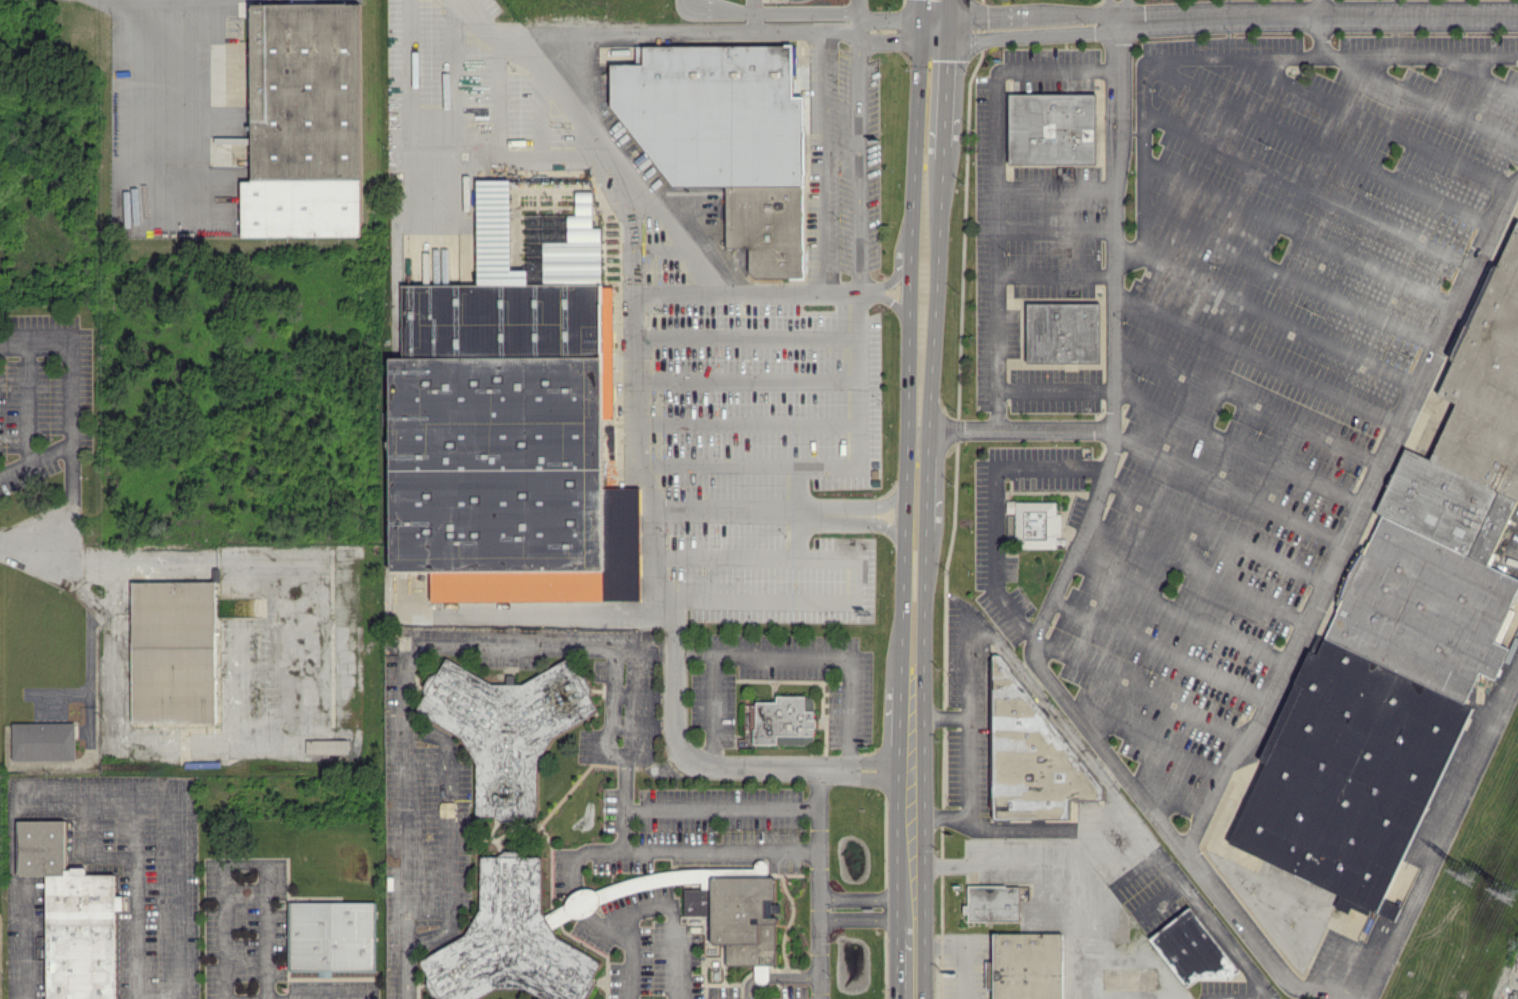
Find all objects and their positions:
road: (159, 4)
road: (940, 7)
road: (1318, 9)
road: (1106, 12)
road: (1126, 12)
road: (818, 15)
road: (859, 15)
road: (1228, 20)
road: (879, 21)
road: (588, 22)
road: (939, 22)
road: (920, 29)
traffic signals: (939, 29)
road: (715, 30)
road: (839, 30)
road: (881, 37)
road: (944, 43)
road: (514, 48)
road: (1418, 56)
road: (1148, 64)
road: (1479, 74)
road: (948, 78)
road: (177, 82)
road: (1426, 99)
building: (305, 121)
road: (1373, 121)
road: (945, 123)
building: (1052, 128)
building: (726, 137)
road: (1320, 145)
road: (438, 159)
road: (817, 159)
road: (860, 159)
road: (1055, 183)
road: (1309, 188)
road: (996, 191)
road: (650, 195)
road: (939, 195)
road: (1055, 225)
road: (1300, 233)
road: (934, 269)
road: (1055, 271)
road: (1291, 274)
road: (886, 281)
road: (838, 288)
road: (884, 299)
road: (1278, 317)
building: (1063, 332)
road: (746, 335)
road: (633, 340)
road: (1114, 346)
road: (1257, 359)
road: (931, 360)
road: (68, 361)
road: (745, 379)
road: (1054, 390)
road: (1248, 399)
building: (511, 420)
road: (1021, 429)
road: (903, 439)
road: (856, 442)
road: (1238, 447)
road: (70, 461)
road: (926, 477)
road: (1230, 490)
road: (992, 499)
road: (864, 504)
road: (1356, 518)
road: (863, 521)
building: (1035, 524)
road: (1215, 532)
road: (78, 552)
road: (725, 559)
road: (1197, 573)
road: (824, 592)
road: (923, 605)
road: (1180, 611)
road: (544, 614)
building: (1415, 620)
road: (668, 640)
road: (994, 642)
building: (173, 648)
road: (1162, 648)
road: (688, 652)
road: (775, 654)
road: (403, 670)
road: (1141, 690)
road: (946, 722)
building: (506, 726)
building: (43, 738)
road: (1149, 745)
building: (326, 746)
road: (865, 758)
road: (923, 760)
road: (865, 778)
road: (819, 788)
road: (66, 794)
road: (1168, 801)
road: (778, 806)
road: (445, 835)
road: (1443, 837)
road: (1023, 840)
road: (1178, 841)
road: (700, 850)
road: (222, 864)
road: (1069, 868)
power tower: (1459, 871)
road: (924, 881)
power tower: (1509, 897)
road: (176, 898)
building: (992, 902)
road: (889, 906)
road: (817, 907)
building: (1389, 909)
building: (737, 911)
building: (72, 914)
road: (653, 914)
road: (891, 928)
building: (333, 937)
building: (516, 937)
building: (1191, 950)
road: (970, 953)
road: (925, 961)
building: (1028, 965)
road: (265, 998)
road: (299, 998)

